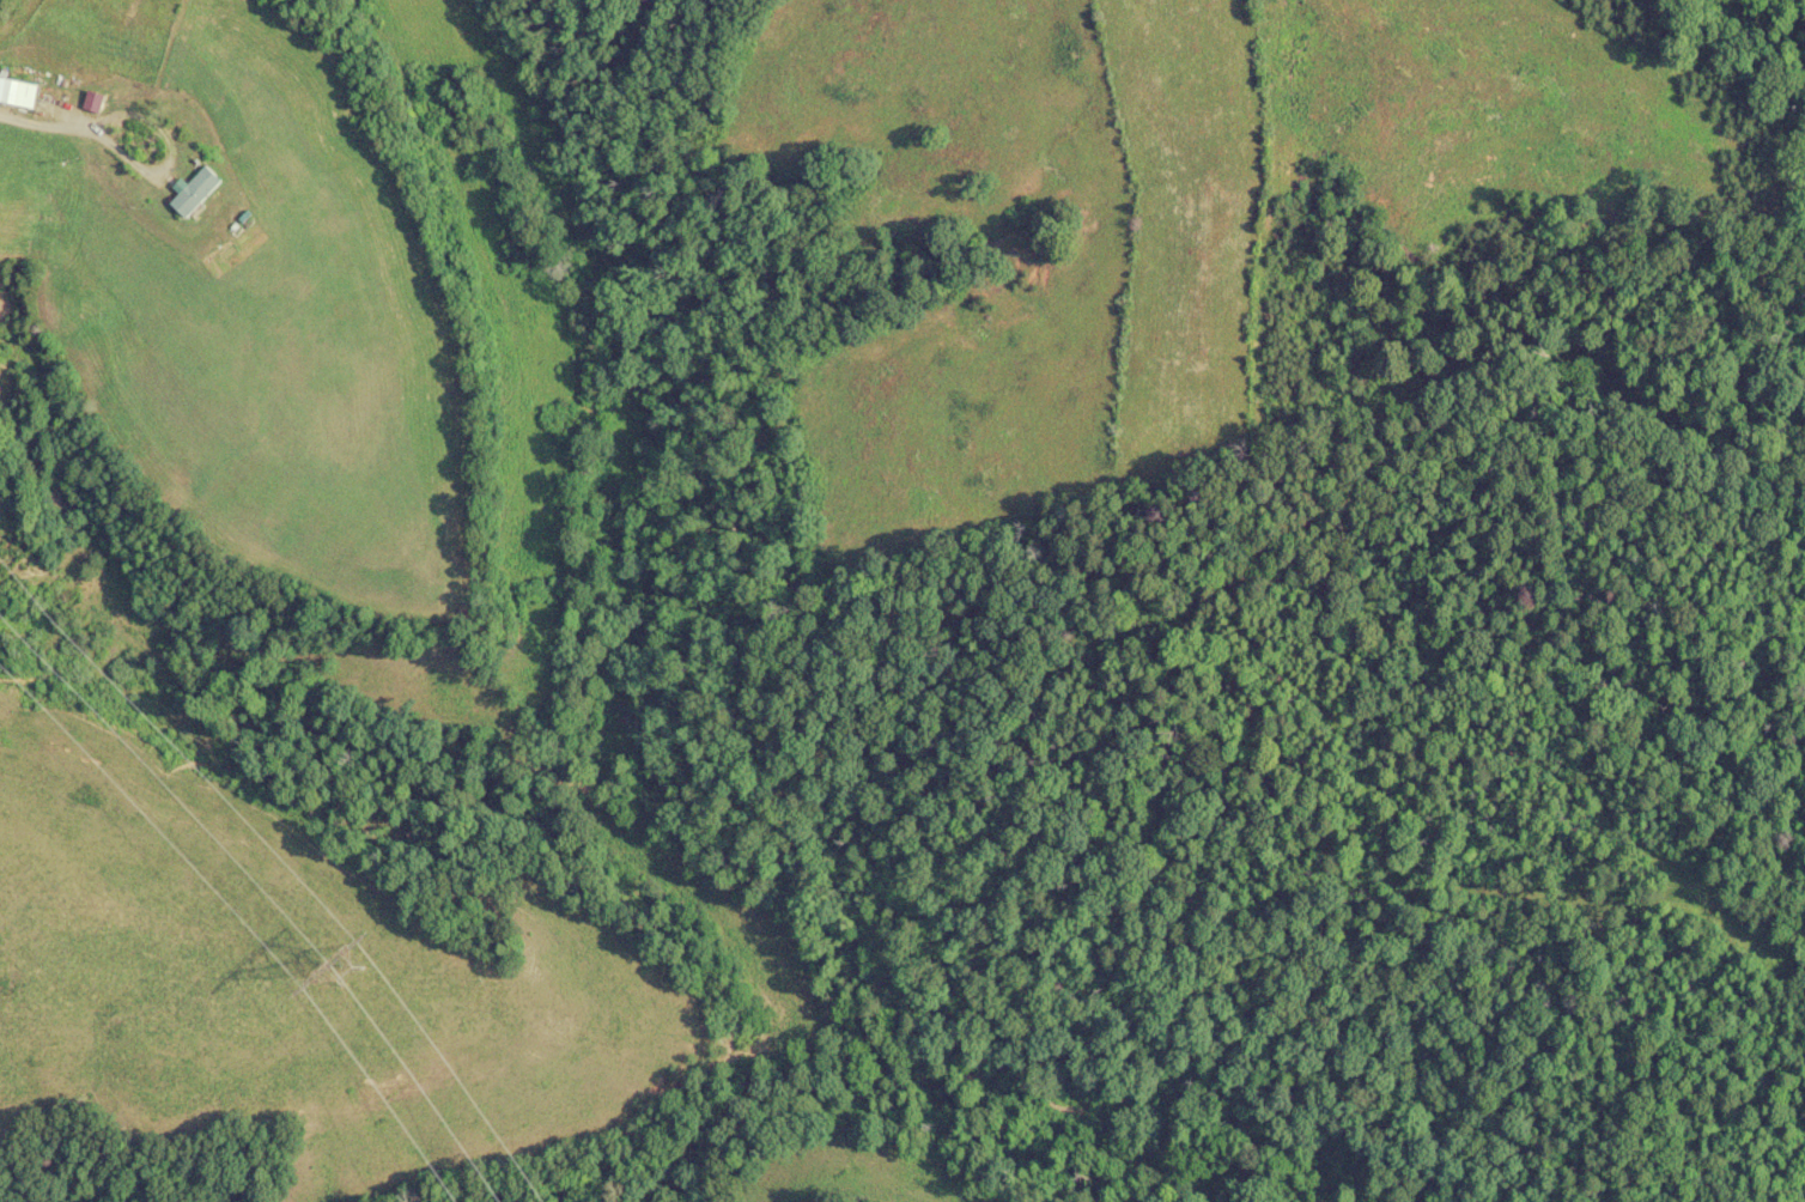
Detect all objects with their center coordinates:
building: (17, 93)
road: (60, 141)
building: (194, 193)
power tower: (344, 964)

